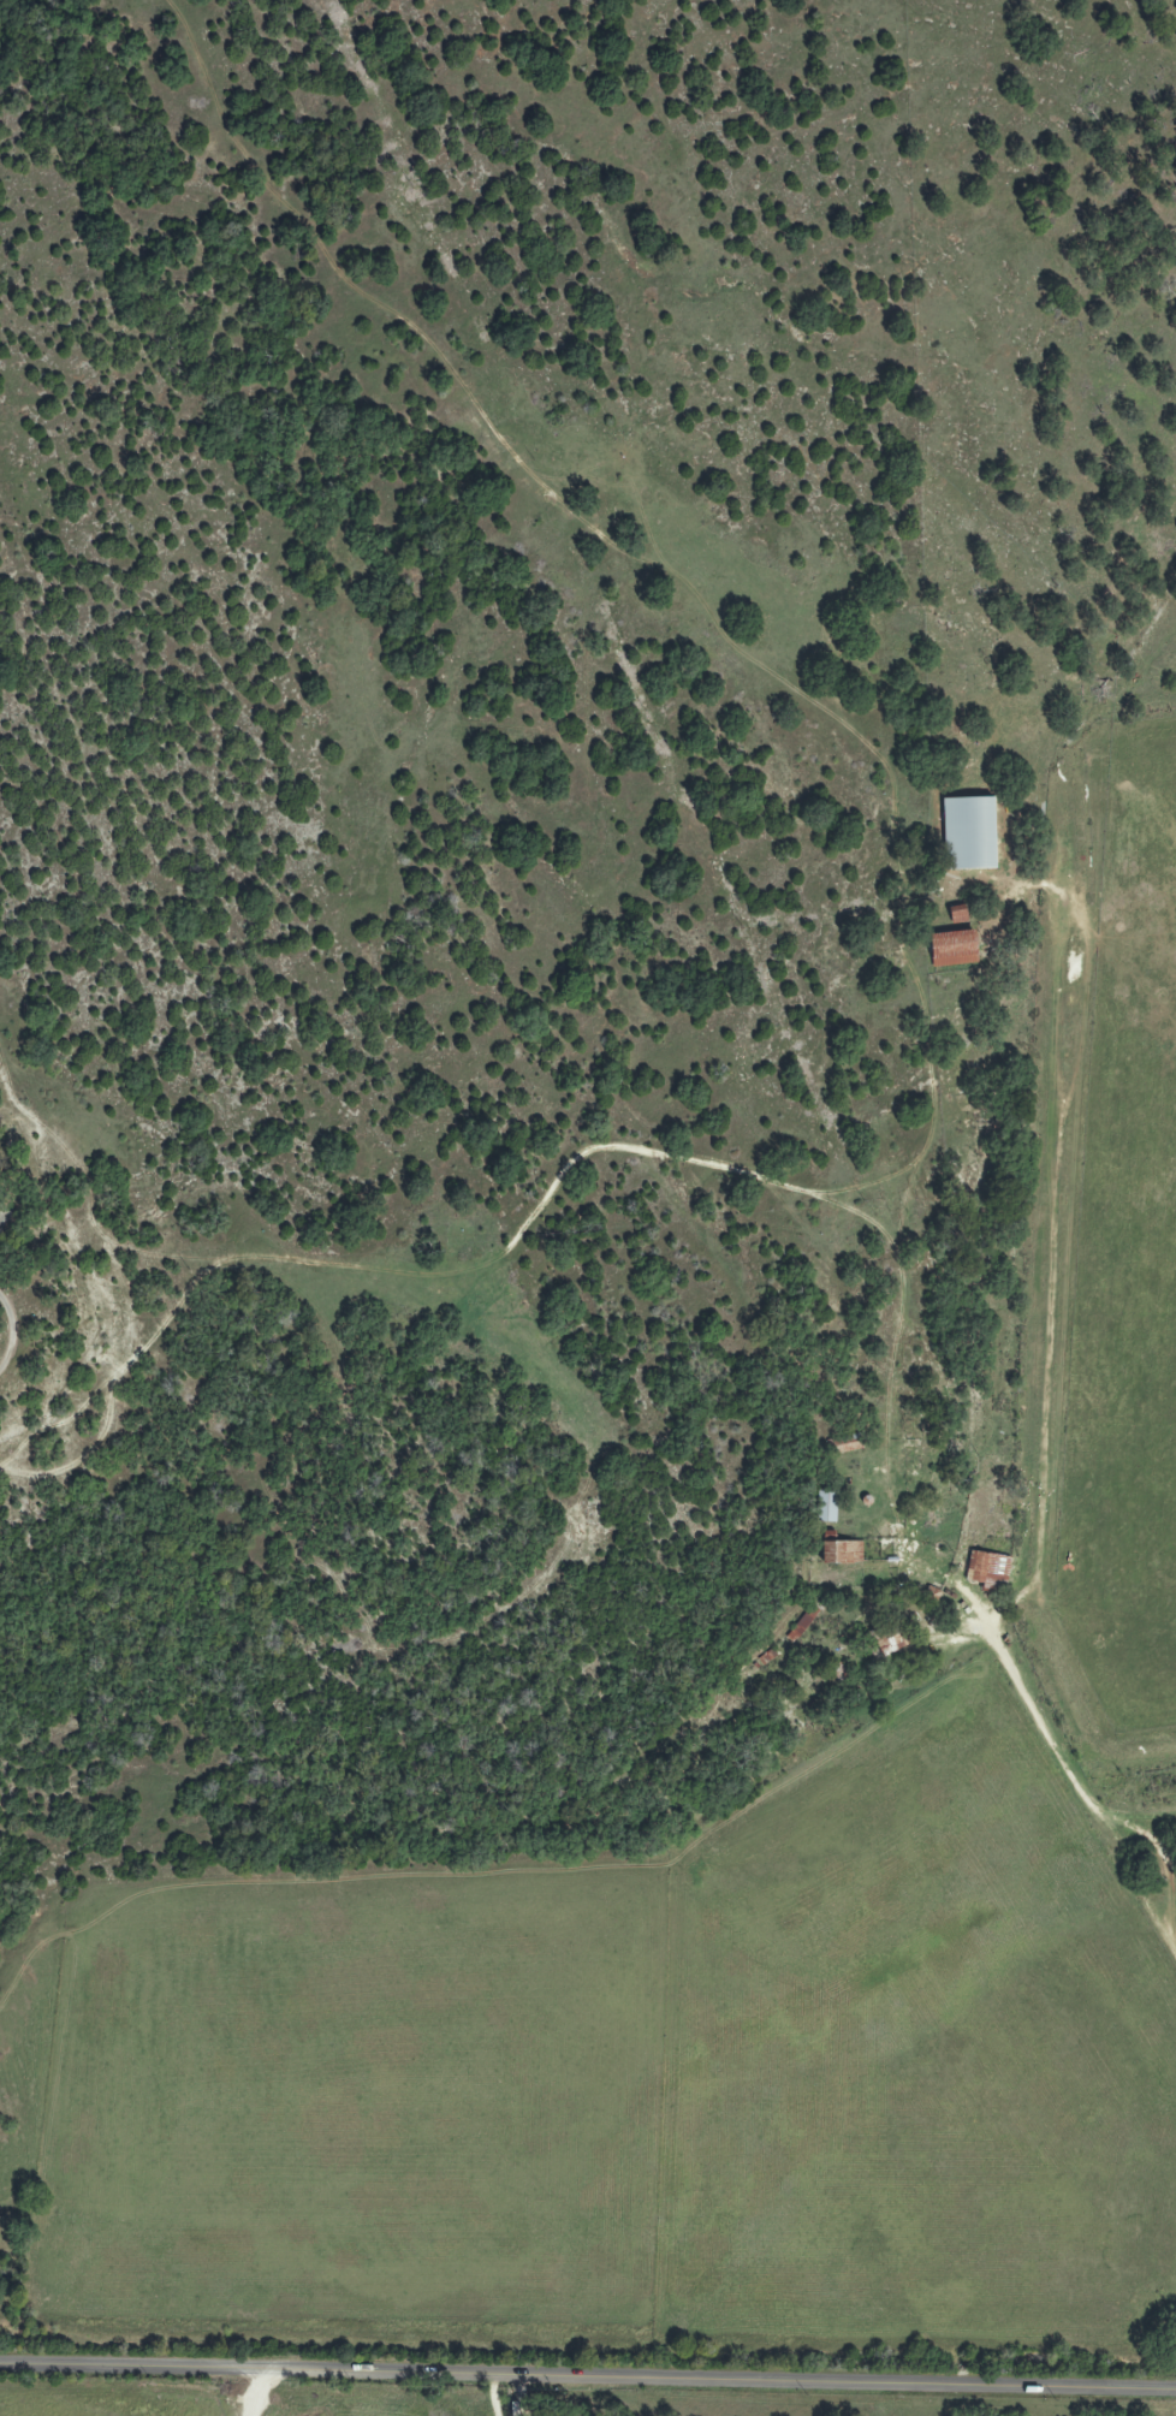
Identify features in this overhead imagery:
building: (969, 833)
building: (952, 949)
building: (826, 1507)
building: (842, 1553)
building: (987, 1571)
building: (801, 1625)
road: (1079, 1789)
road: (587, 2380)

